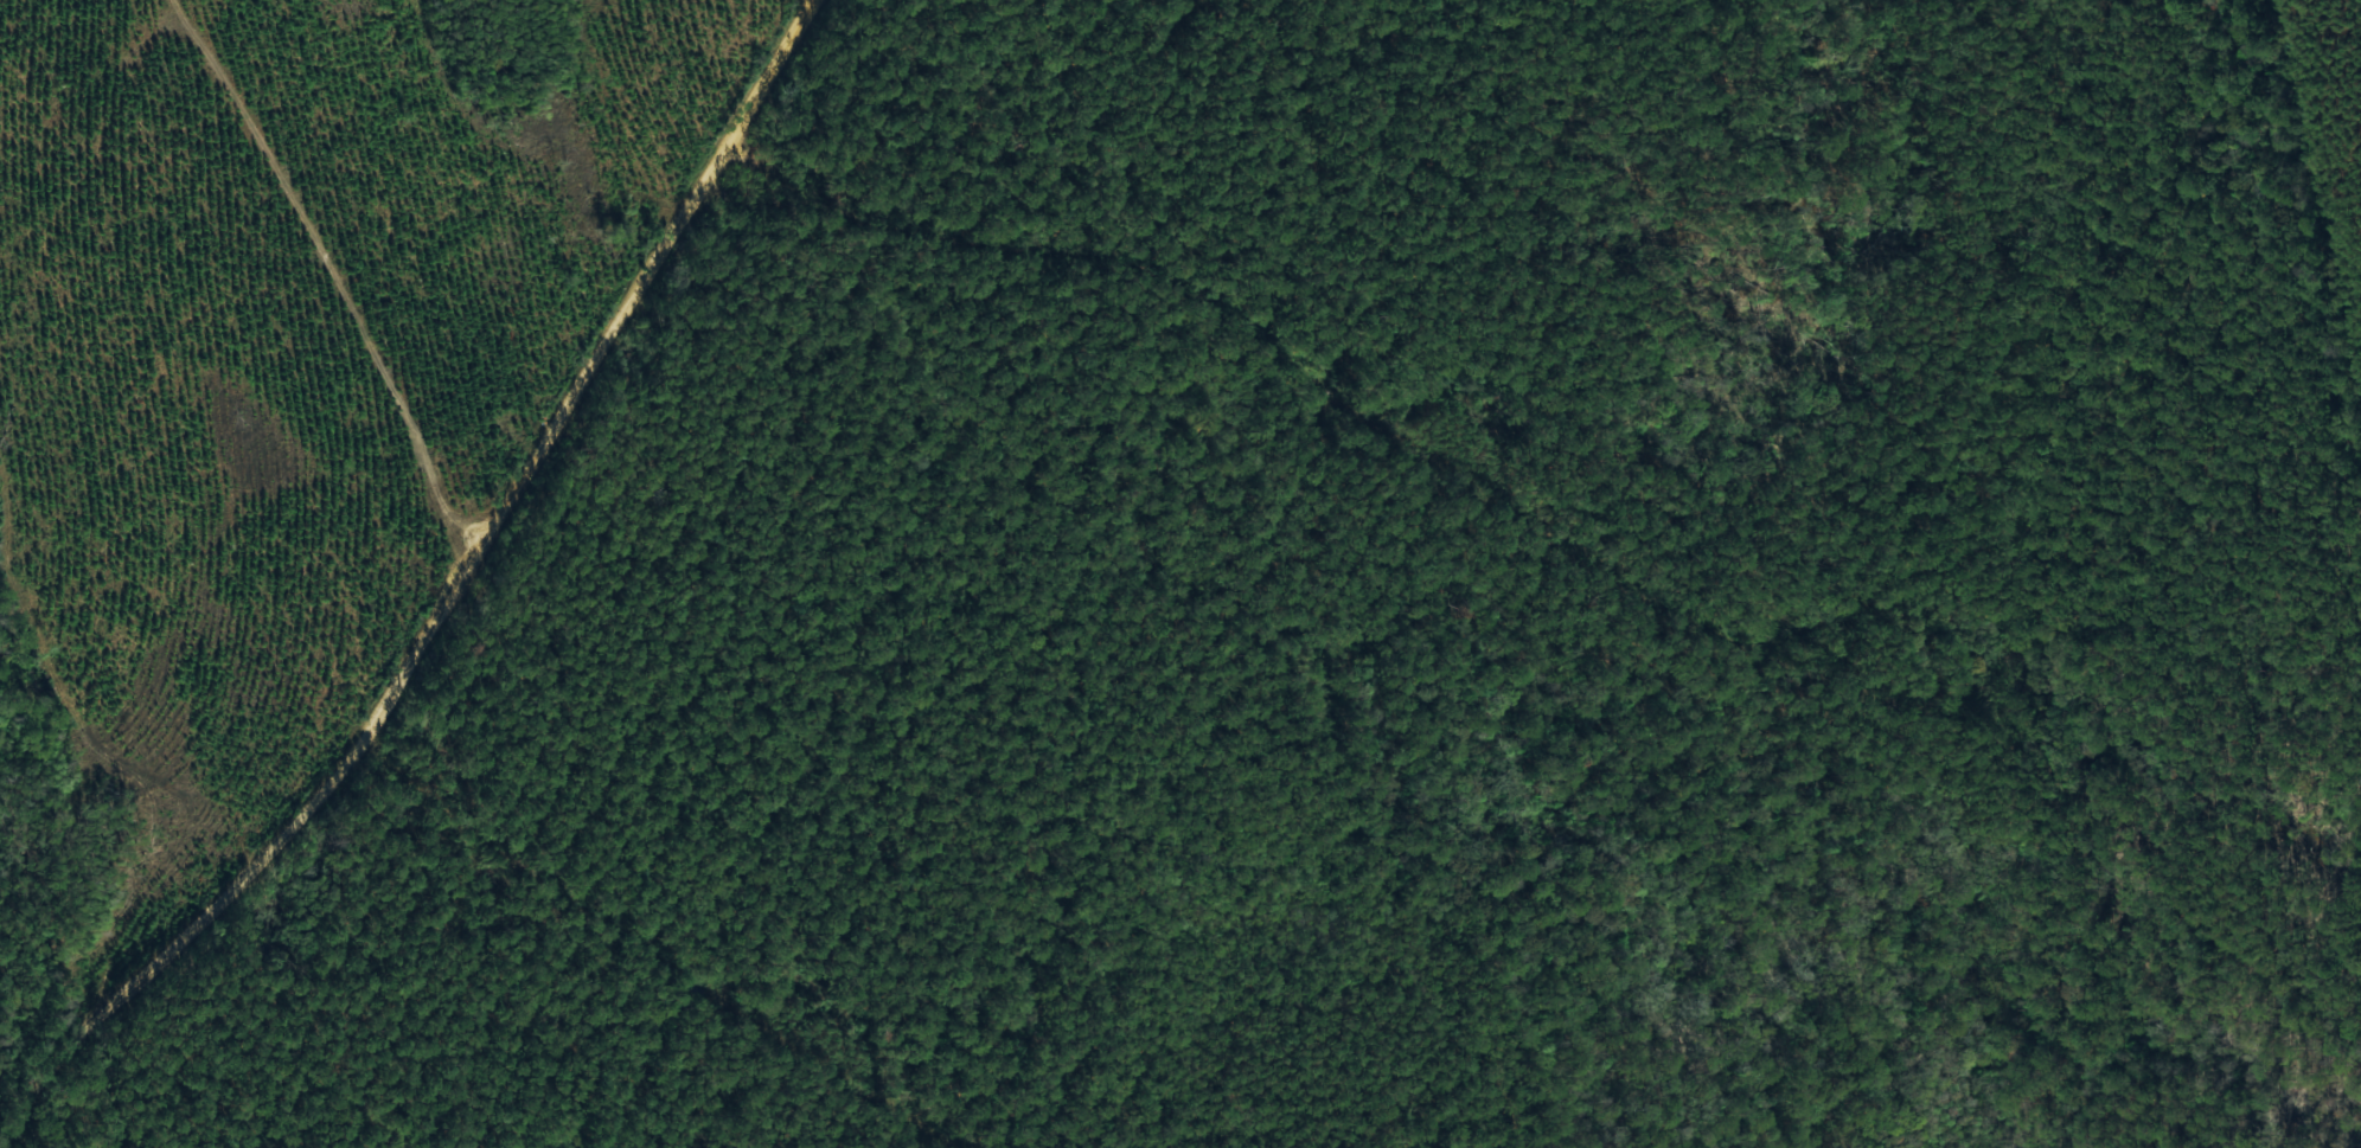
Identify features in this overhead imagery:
road: (435, 595)

